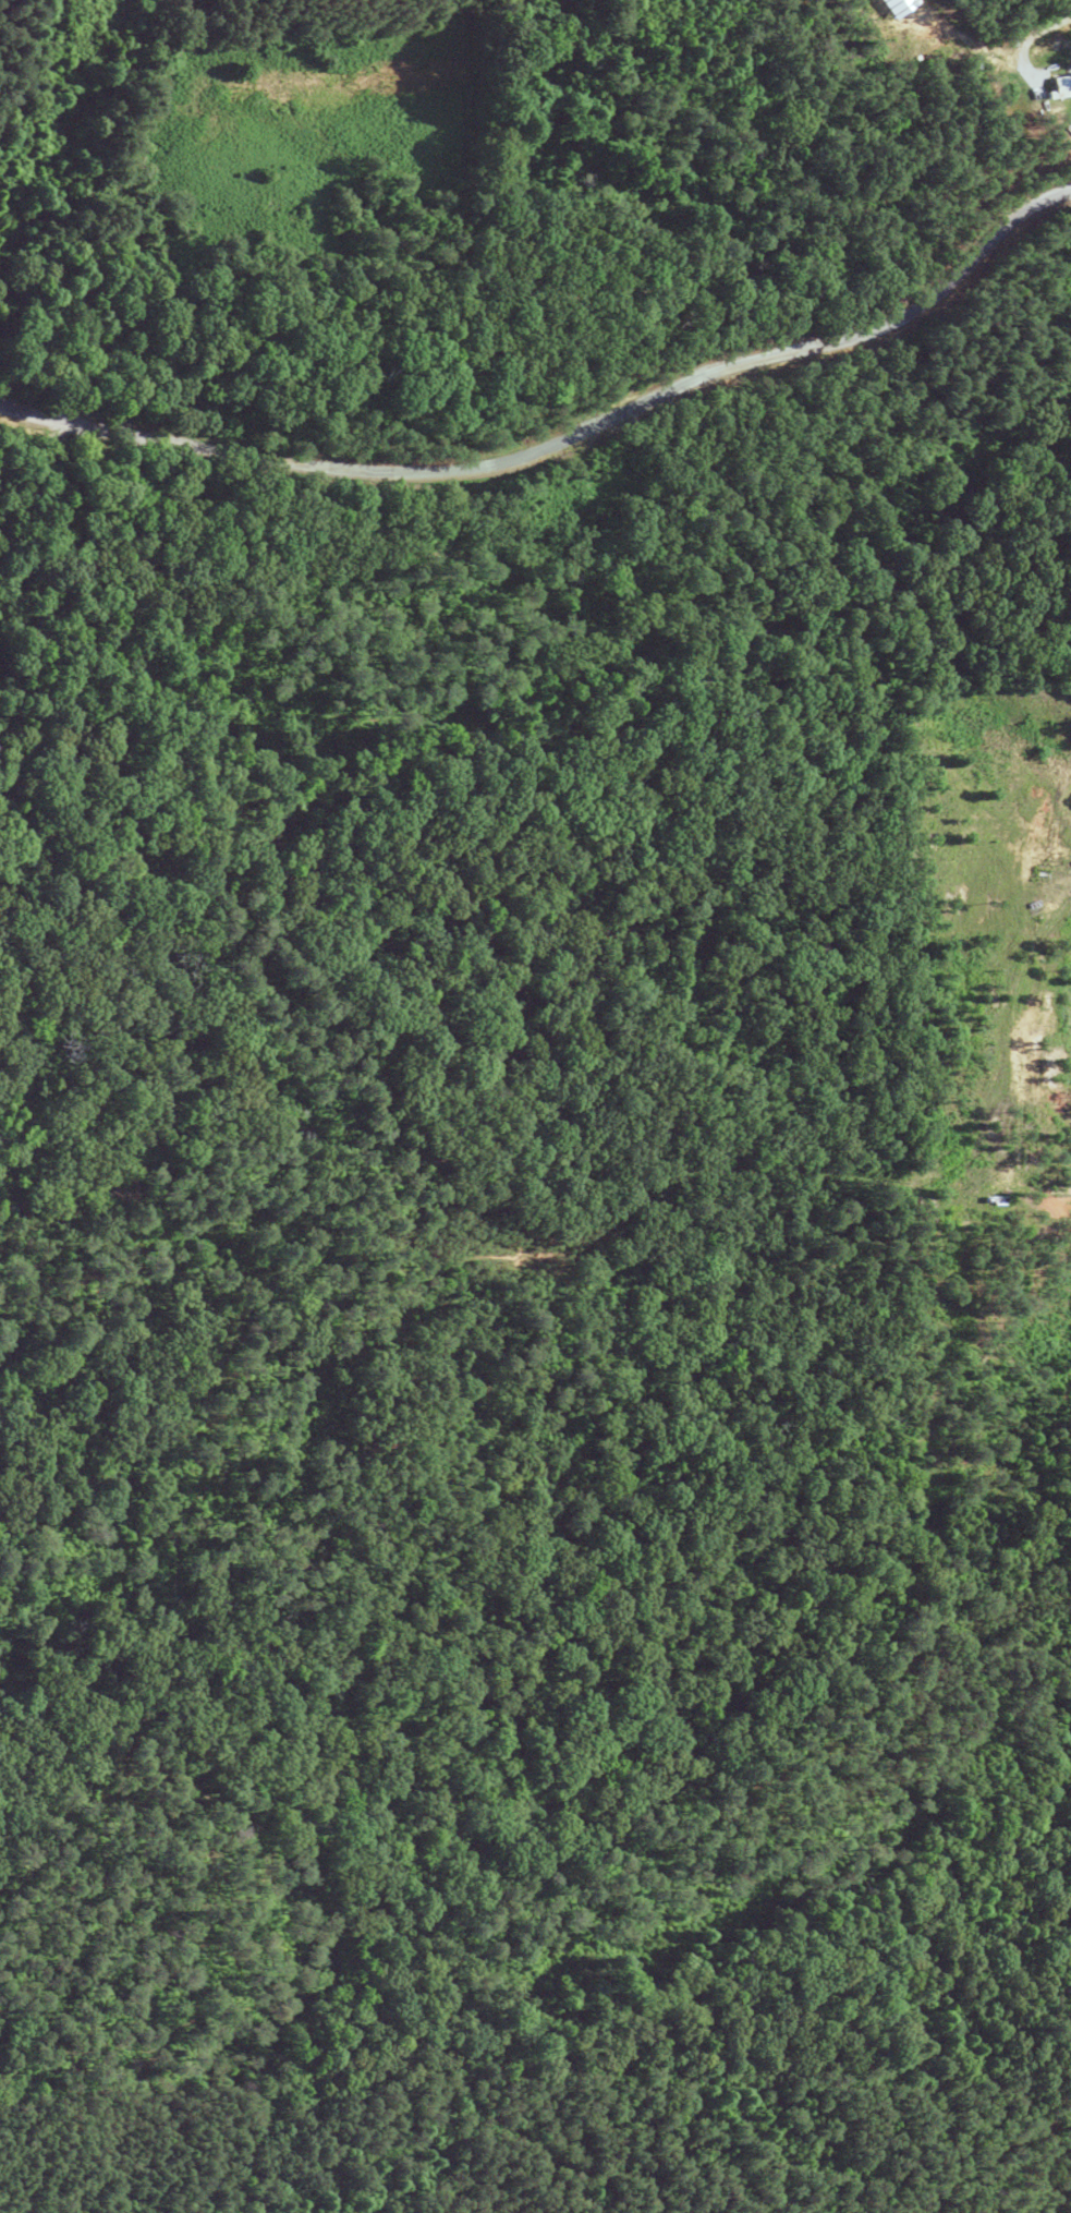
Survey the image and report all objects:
building: (1056, 85)
road: (563, 439)

